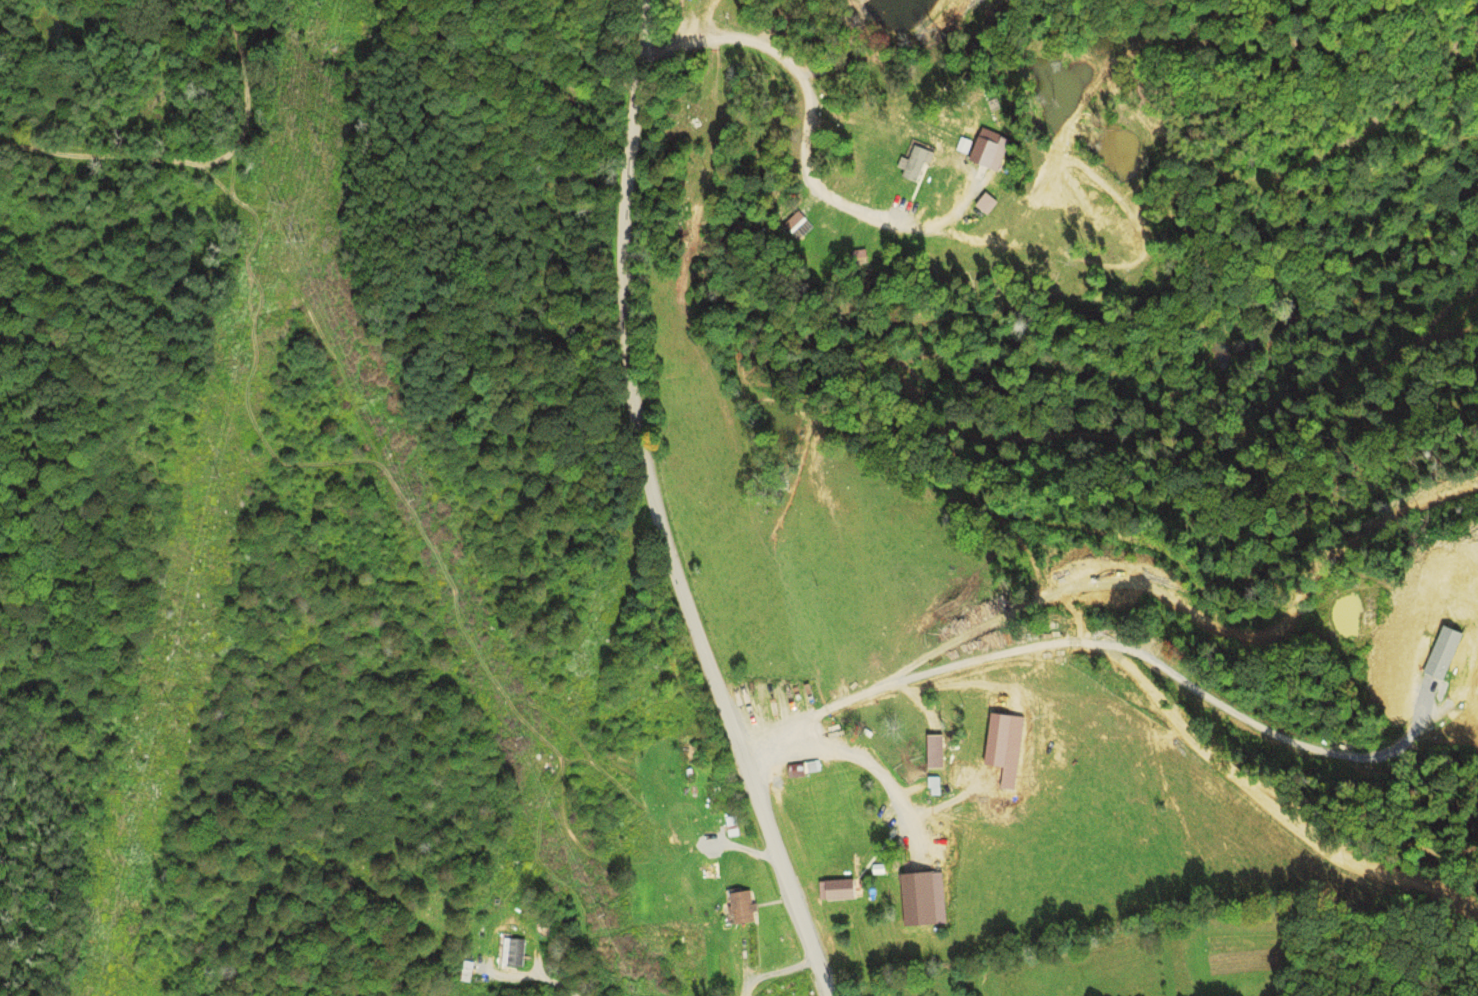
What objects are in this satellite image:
building: (993, 204)
road: (992, 389)
road: (662, 506)
building: (801, 769)
building: (737, 827)
building: (840, 891)
building: (920, 897)
building: (745, 906)
building: (517, 951)
building: (469, 970)

